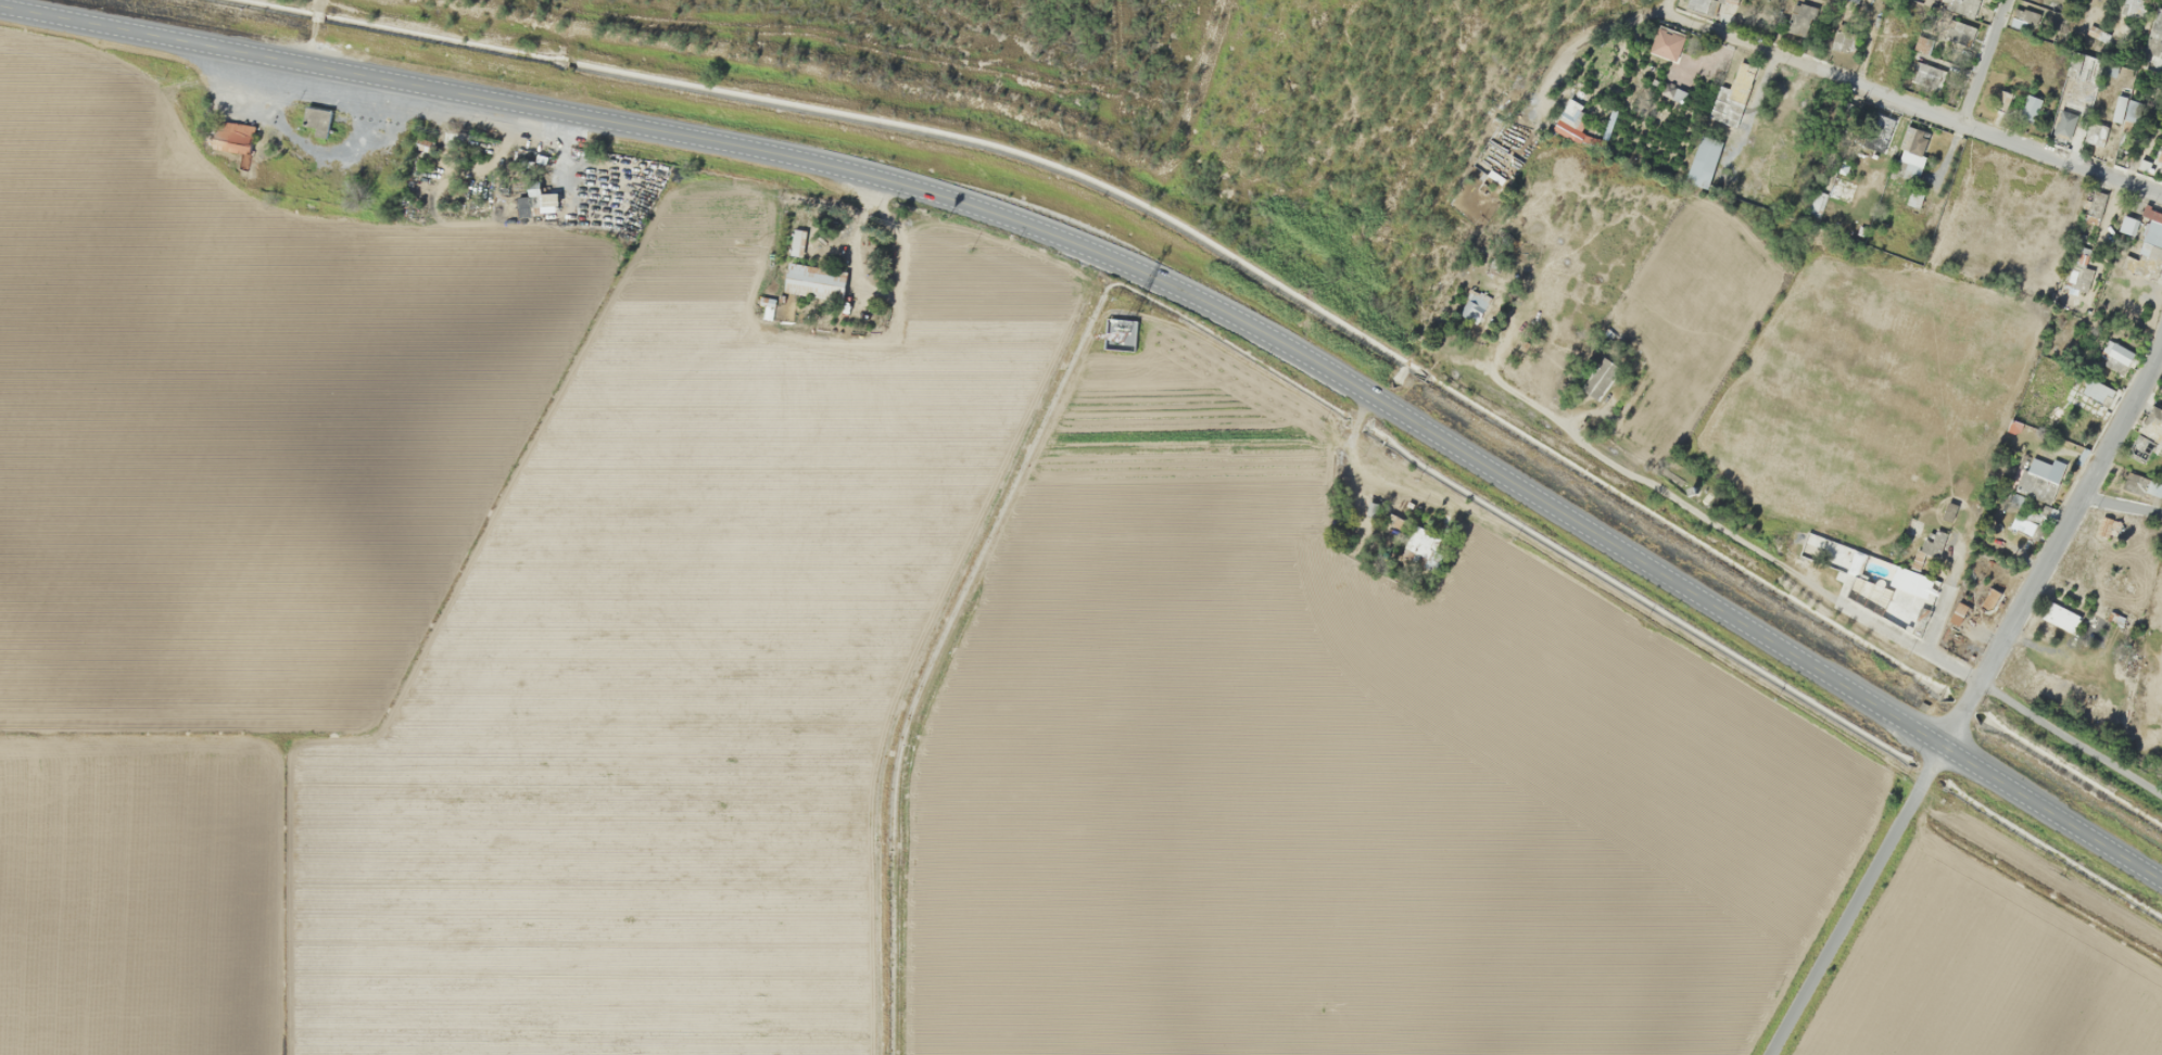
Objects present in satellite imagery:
road: (1664, 8)
road: (1984, 61)
road: (1914, 104)
road: (1147, 275)
road: (2120, 506)
road: (2052, 545)

